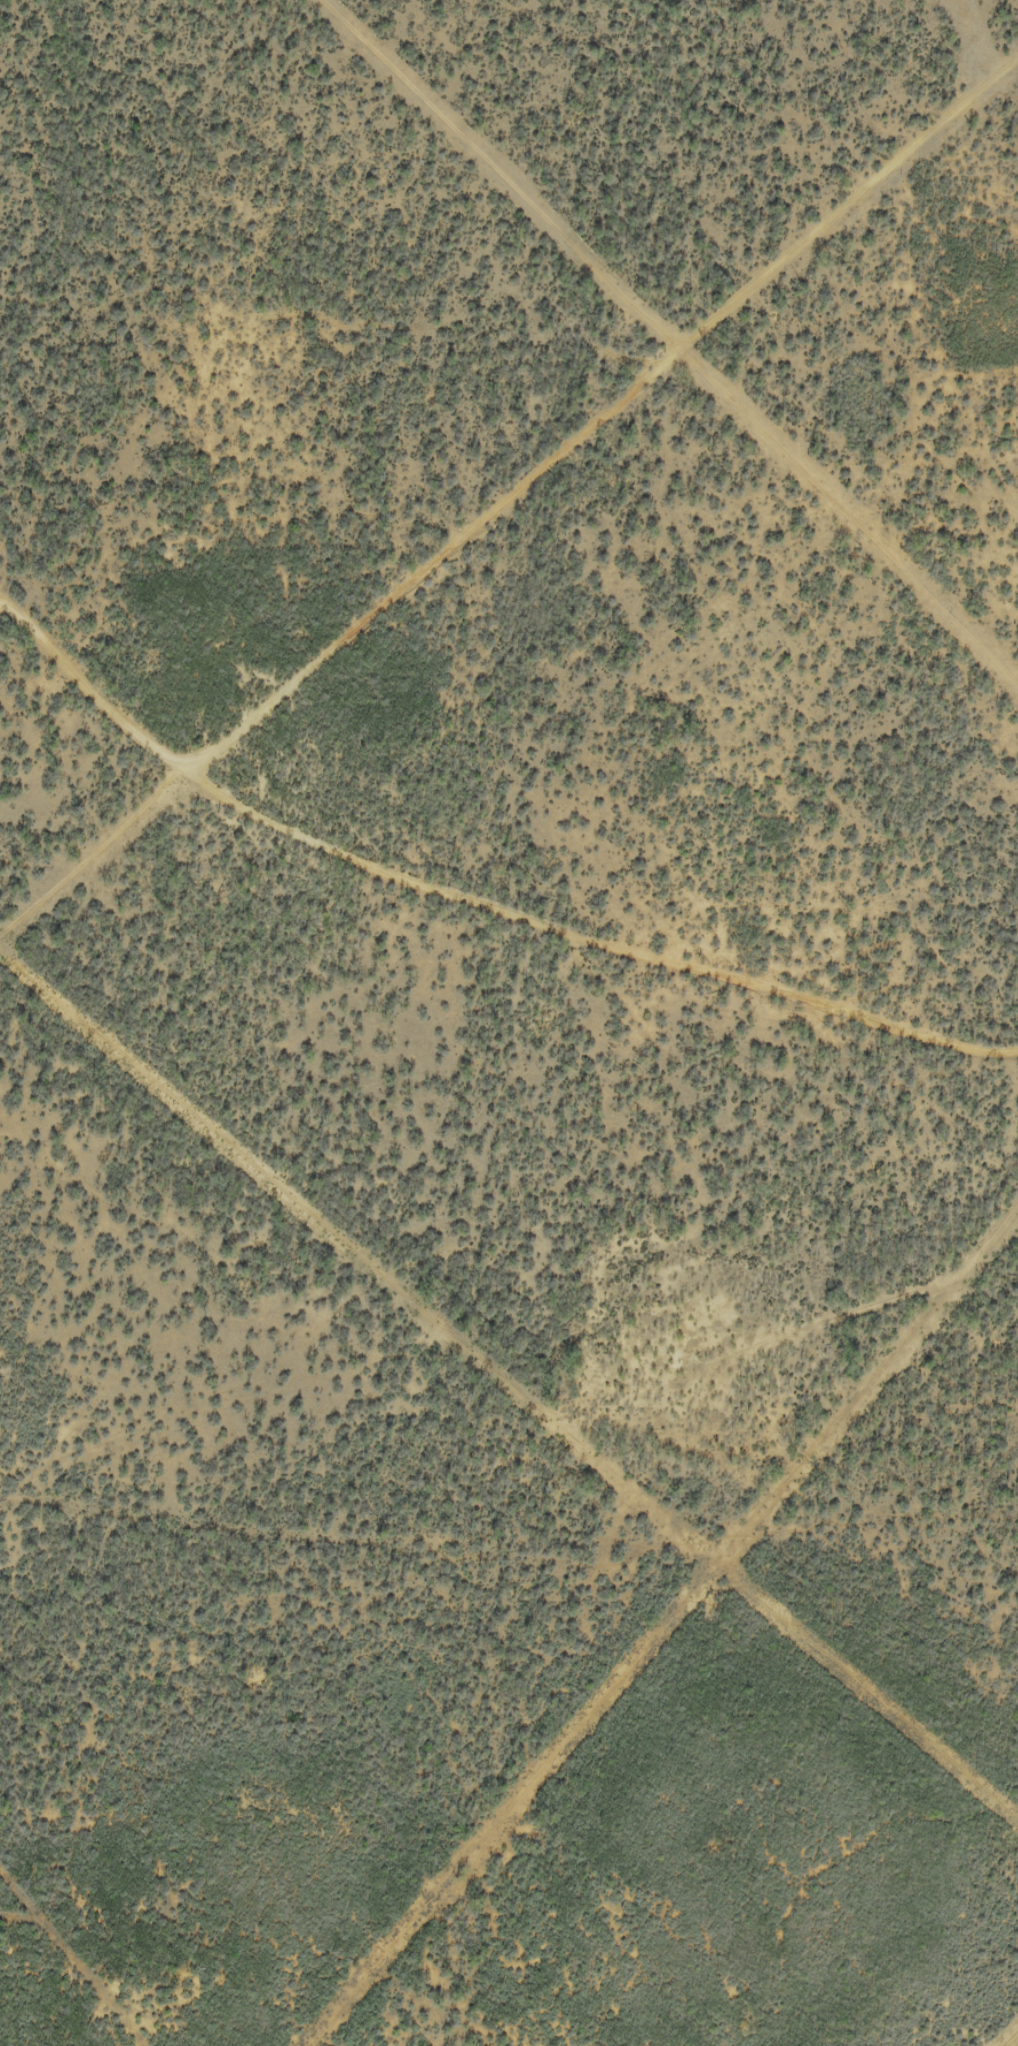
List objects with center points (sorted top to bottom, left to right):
road: (480, 911)

